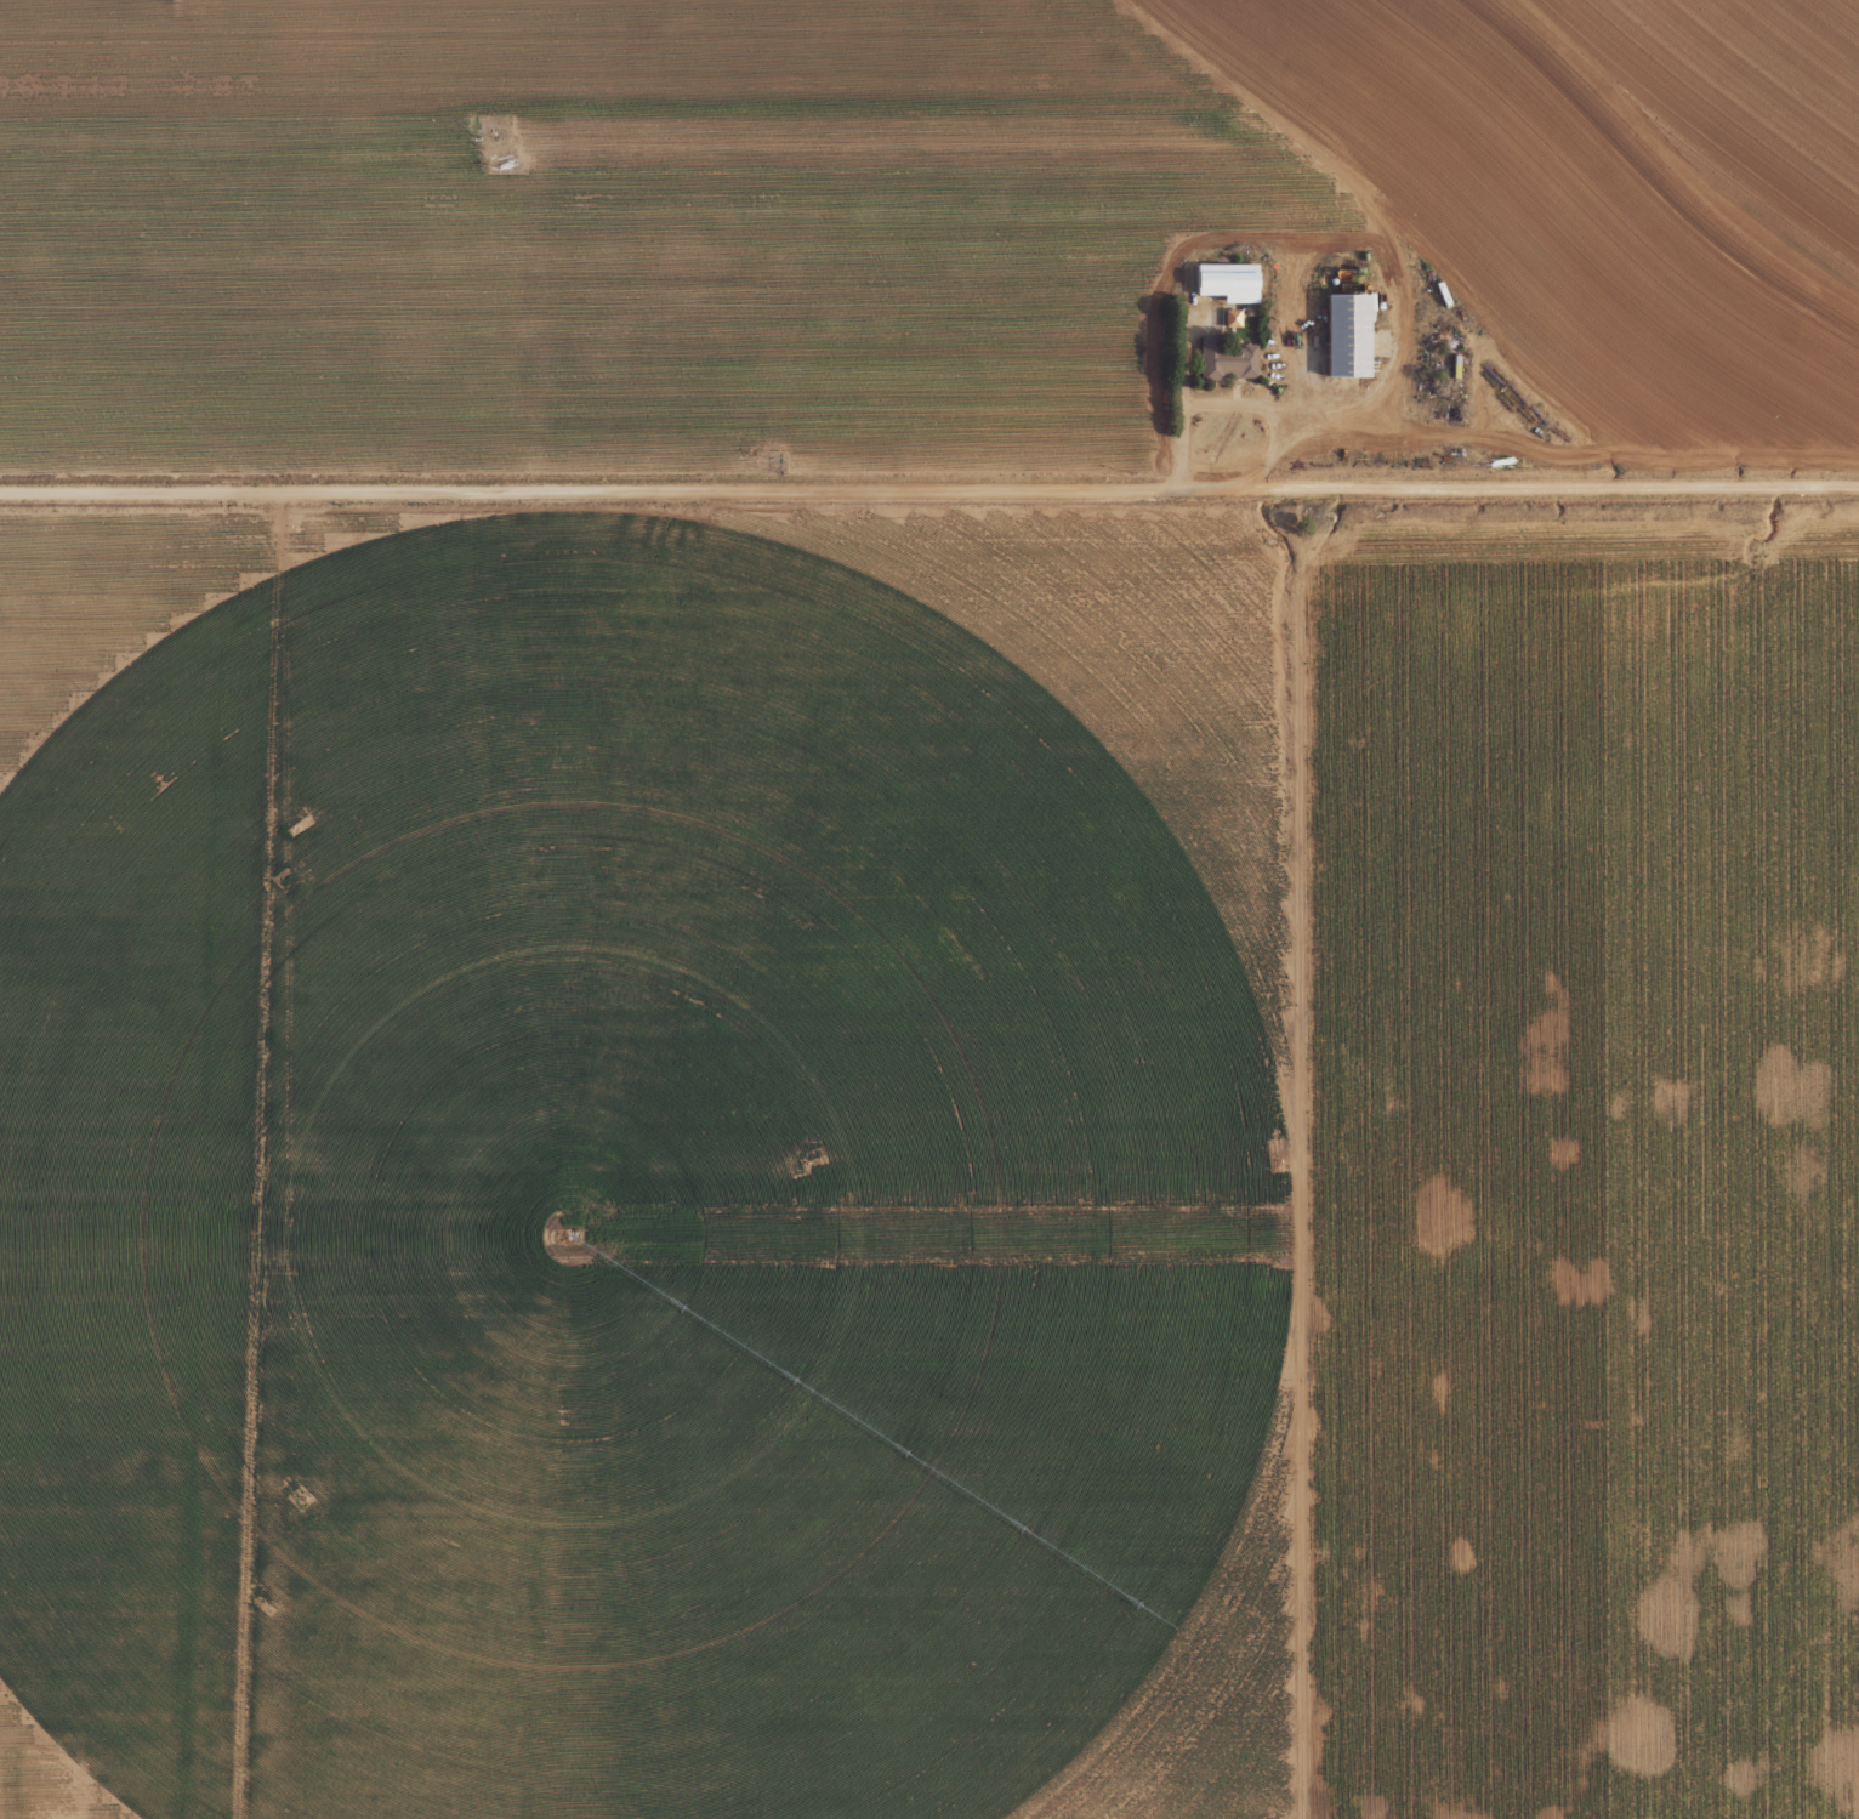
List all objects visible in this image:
building: (1230, 280)
building: (1349, 334)
building: (1218, 360)
road: (1221, 402)
road: (929, 489)

